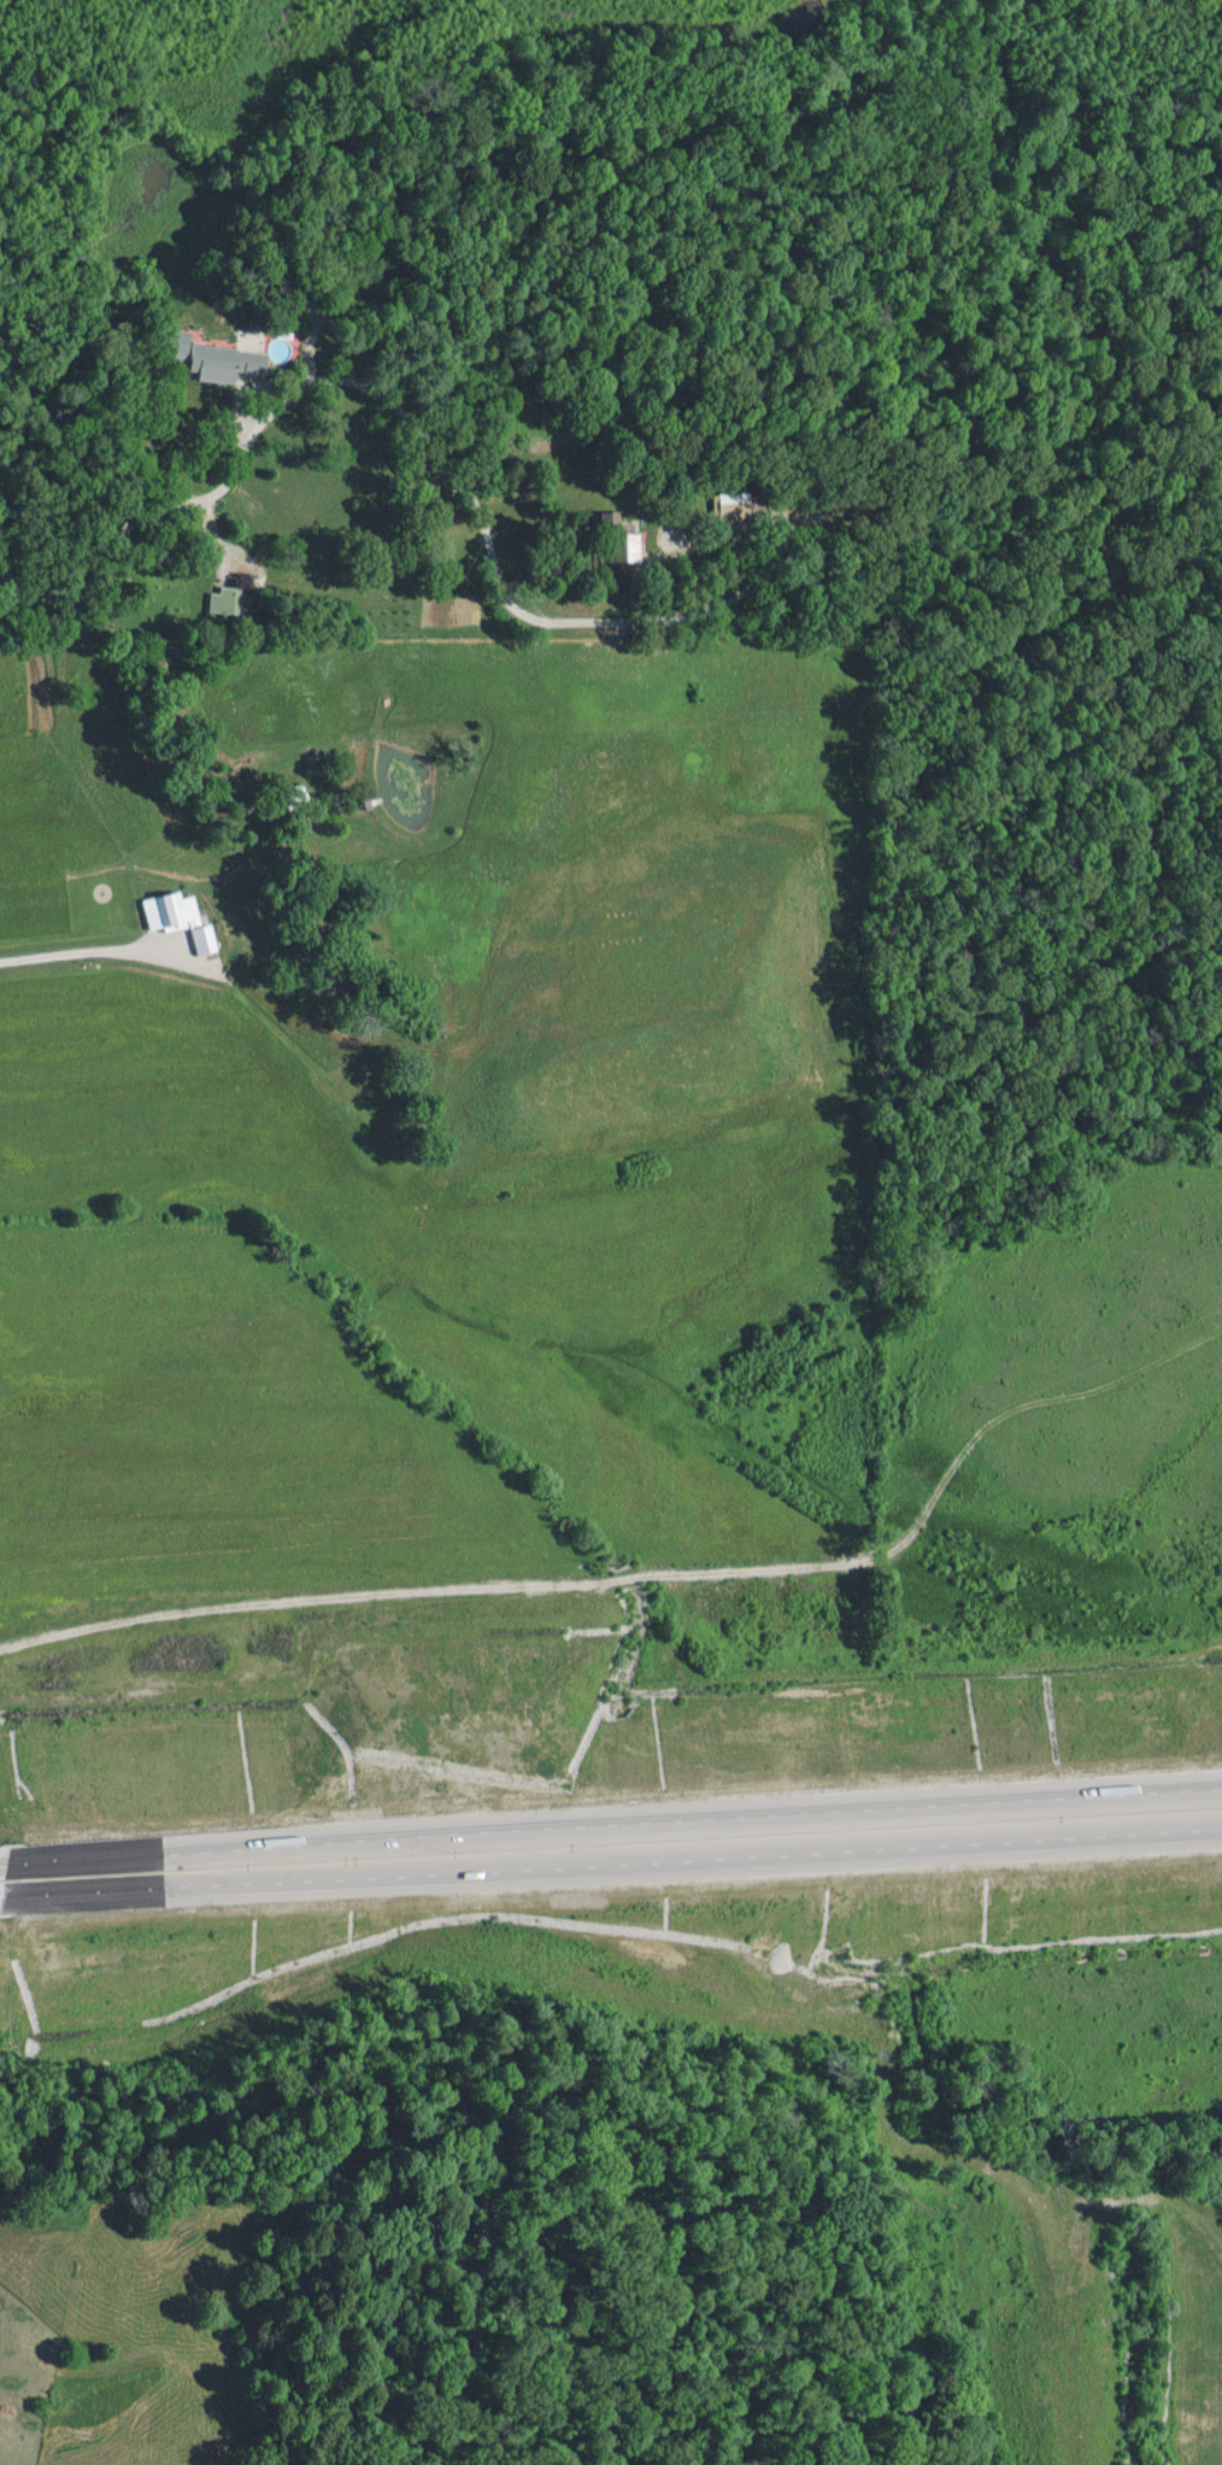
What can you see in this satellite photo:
road: (413, 421)
building: (616, 539)
building: (290, 793)
building: (172, 917)
road: (429, 1597)
road: (618, 1825)
road: (618, 1860)
road: (7, 1864)
road: (7, 1894)

